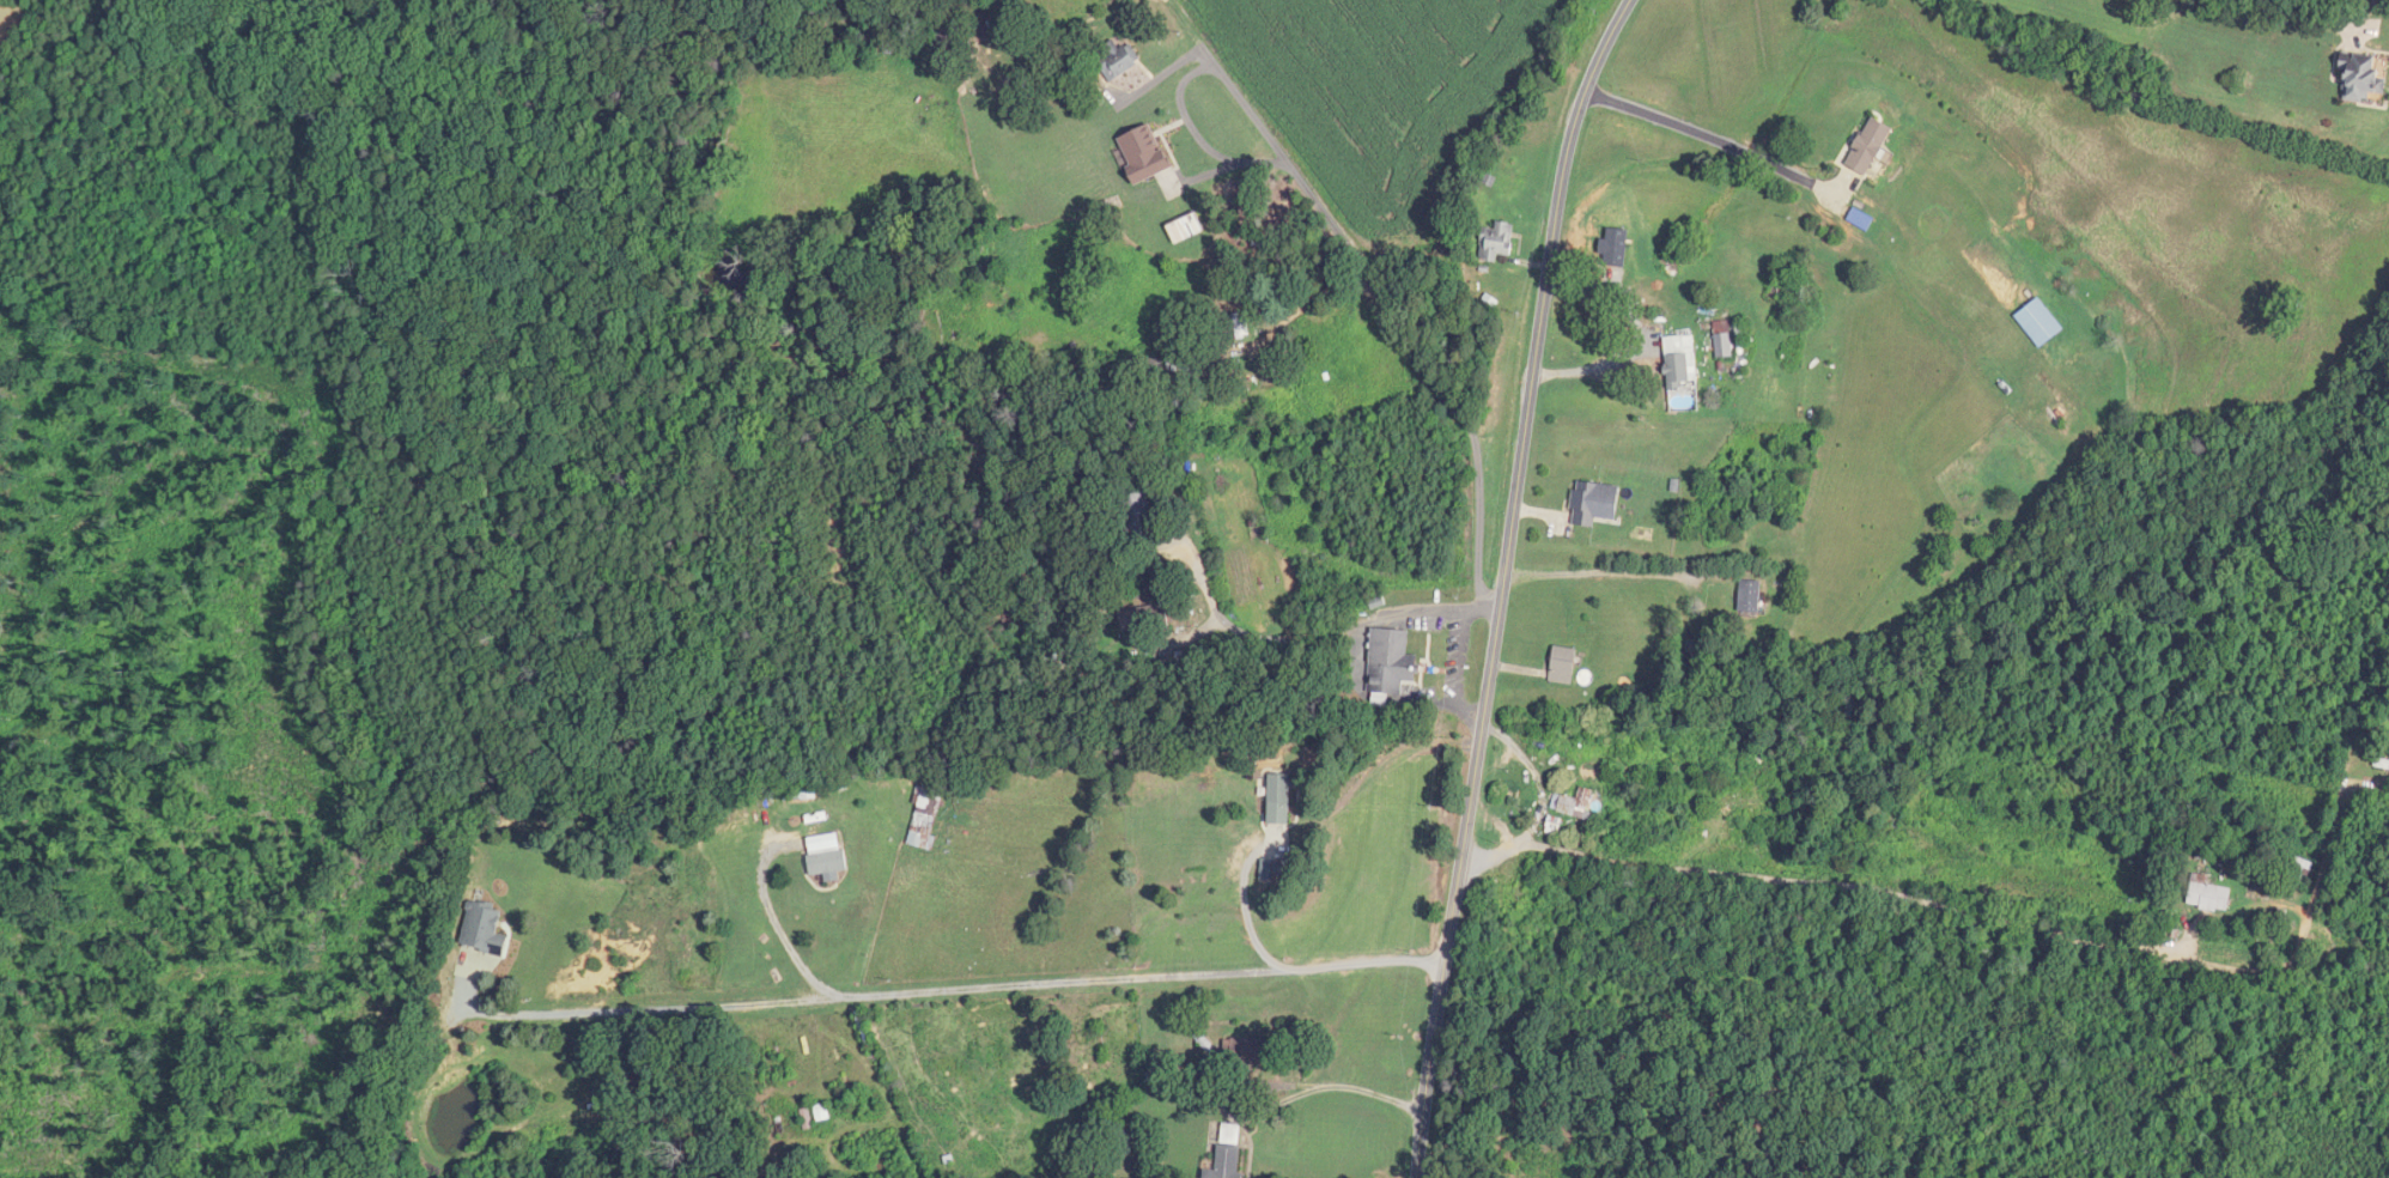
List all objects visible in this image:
building: (997, 25)
road: (2255, 31)
building: (1119, 61)
building: (2364, 78)
building: (1868, 146)
road: (1707, 151)
building: (1497, 242)
road: (1384, 317)
building: (2040, 323)
building: (1236, 327)
building: (1724, 339)
road: (1595, 368)
building: (1682, 374)
building: (1594, 503)
building: (1141, 515)
road: (1616, 571)
road: (1503, 583)
building: (1148, 588)
building: (1750, 597)
building: (1144, 620)
road: (1349, 629)
building: (1391, 666)
building: (1562, 666)
building: (2383, 763)
building: (806, 794)
building: (1279, 800)
building: (1570, 806)
building: (926, 814)
building: (1610, 833)
building: (826, 854)
building: (2299, 873)
building: (2207, 894)
road: (1246, 910)
road: (1961, 911)
building: (484, 929)
road: (767, 929)
road: (953, 990)
building: (1247, 1051)
road: (1339, 1087)
building: (816, 1116)
building: (1230, 1133)
building: (1227, 1162)

